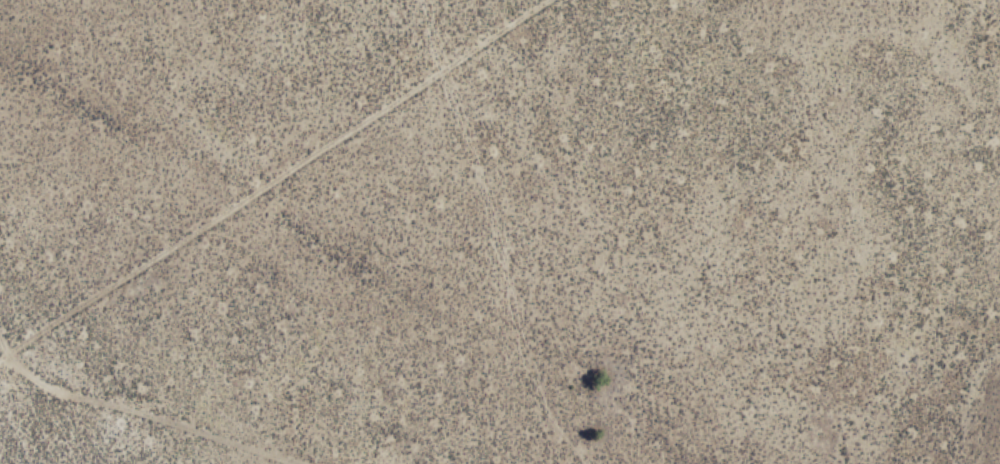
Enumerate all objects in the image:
road: (292, 174)
road: (19, 202)
road: (8, 234)
road: (187, 406)

